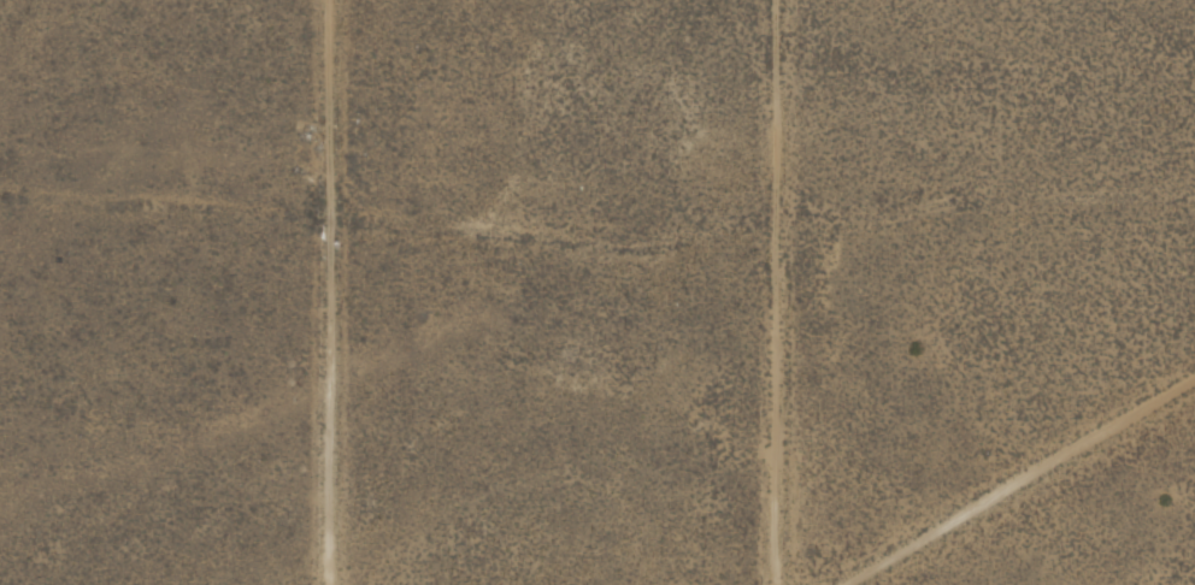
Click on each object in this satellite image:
road: (339, 292)
road: (788, 292)
road: (1018, 480)

